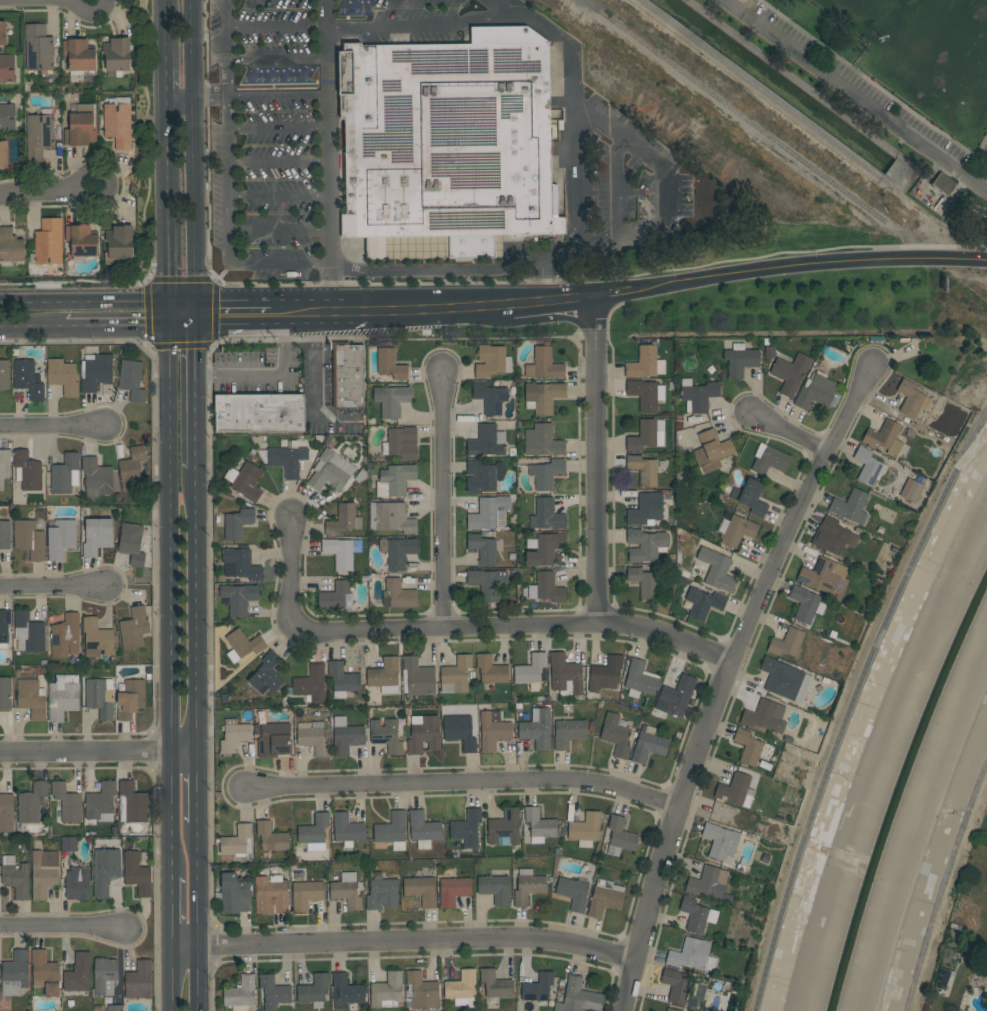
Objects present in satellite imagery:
road: (745, 0)
park: (883, 5)
road: (164, 6)
road: (746, 7)
road: (93, 12)
road: (428, 22)
road: (276, 26)
building: (3, 34)
road: (224, 47)
building: (38, 48)
building: (117, 54)
road: (166, 55)
building: (80, 57)
road: (276, 59)
building: (6, 68)
park: (892, 82)
road: (877, 84)
parking lot: (862, 85)
road: (282, 95)
road: (200, 96)
road: (853, 96)
railway: (733, 111)
building: (7, 118)
building: (117, 124)
road: (279, 126)
building: (81, 127)
building: (39, 135)
road: (167, 145)
building: (448, 145)
building: (3, 154)
road: (331, 155)
road: (194, 158)
parking lot: (983, 158)
road: (279, 163)
road: (668, 172)
road: (578, 179)
road: (107, 183)
building: (944, 184)
road: (616, 187)
road: (985, 187)
road: (41, 192)
road: (279, 194)
road: (659, 197)
road: (969, 207)
road: (280, 229)
road: (229, 231)
building: (48, 242)
building: (81, 242)
building: (118, 245)
road: (981, 245)
building: (11, 246)
road: (169, 259)
road: (810, 264)
road: (438, 265)
road: (614, 295)
road: (552, 302)
road: (99, 303)
traffic signals: (170, 303)
road: (434, 307)
road: (346, 310)
road: (308, 312)
road: (276, 313)
road: (233, 314)
traffic signals: (197, 316)
road: (183, 321)
road: (33, 326)
road: (118, 326)
traffic signals: (170, 326)
building: (770, 352)
building: (740, 360)
building: (492, 361)
building: (645, 363)
road: (314, 364)
building: (390, 364)
building: (544, 364)
building: (97, 372)
road: (268, 372)
building: (790, 373)
building: (5, 375)
building: (347, 375)
building: (63, 376)
building: (28, 379)
building: (131, 379)
road: (197, 392)
building: (816, 392)
building: (646, 394)
building: (699, 395)
building: (543, 396)
building: (490, 398)
building: (912, 399)
building: (391, 400)
building: (259, 413)
road: (53, 427)
road: (786, 433)
road: (971, 435)
building: (645, 436)
building: (885, 437)
building: (487, 441)
building: (545, 441)
building: (401, 443)
building: (712, 451)
building: (288, 459)
building: (769, 459)
road: (594, 461)
building: (869, 466)
building: (4, 467)
building: (133, 469)
building: (643, 469)
building: (27, 471)
building: (330, 472)
building: (546, 473)
building: (65, 474)
building: (483, 476)
building: (97, 478)
building: (395, 480)
building: (245, 481)
building: (912, 490)
building: (751, 497)
road: (442, 500)
building: (851, 506)
building: (646, 510)
building: (487, 513)
building: (547, 515)
building: (391, 518)
building: (343, 520)
building: (237, 523)
building: (735, 530)
building: (881, 530)
building: (5, 535)
building: (97, 536)
building: (837, 536)
building: (61, 538)
building: (29, 539)
building: (132, 544)
building: (646, 545)
building: (485, 548)
building: (544, 548)
building: (342, 552)
building: (397, 552)
building: (240, 564)
building: (716, 569)
building: (825, 577)
building: (645, 582)
building: (487, 583)
road: (53, 588)
building: (547, 588)
building: (400, 594)
building: (336, 597)
building: (238, 598)
road: (170, 600)
building: (703, 603)
building: (806, 604)
road: (197, 608)
building: (4, 627)
road: (456, 627)
building: (134, 628)
building: (29, 632)
building: (66, 636)
building: (97, 638)
building: (786, 643)
building: (243, 645)
building: (491, 669)
building: (531, 671)
building: (565, 673)
building: (267, 674)
building: (606, 674)
building: (385, 675)
building: (456, 675)
building: (418, 677)
building: (781, 678)
building: (640, 679)
building: (343, 680)
road: (722, 681)
building: (311, 683)
building: (247, 691)
building: (5, 693)
building: (63, 697)
building: (100, 697)
building: (676, 697)
building: (32, 698)
building: (226, 698)
building: (131, 699)
road: (849, 710)
building: (763, 716)
building: (537, 729)
building: (493, 732)
building: (568, 732)
building: (424, 734)
building: (234, 735)
building: (616, 735)
building: (346, 736)
building: (386, 736)
building: (461, 736)
building: (274, 740)
building: (313, 741)
building: (649, 745)
building: (748, 747)
road: (98, 751)
road: (197, 785)
road: (459, 786)
building: (736, 790)
building: (68, 802)
building: (101, 802)
building: (31, 803)
building: (132, 803)
building: (6, 813)
building: (539, 825)
building: (506, 827)
building: (467, 828)
building: (347, 829)
building: (423, 829)
building: (585, 829)
building: (392, 830)
building: (314, 832)
building: (621, 834)
building: (271, 837)
building: (720, 841)
building: (237, 842)
building: (68, 844)
building: (105, 871)
building: (44, 872)
building: (137, 874)
building: (15, 877)
road: (943, 882)
building: (709, 883)
building: (77, 884)
building: (528, 887)
building: (494, 888)
building: (421, 890)
building: (453, 890)
building: (305, 892)
building: (346, 892)
building: (380, 892)
building: (573, 892)
building: (234, 894)
building: (271, 895)
building: (605, 898)
road: (172, 910)
building: (697, 914)
road: (199, 916)
building: (955, 927)
road: (63, 928)
road: (405, 940)
building: (692, 955)
building: (949, 955)
building: (15, 973)
building: (45, 973)
building: (78, 973)
building: (105, 978)
road: (173, 978)
building: (942, 978)
building: (139, 980)
building: (495, 984)
building: (678, 986)
building: (538, 987)
building: (462, 988)
building: (348, 989)
building: (314, 990)
building: (387, 991)
building: (422, 991)
building: (273, 992)
building: (241, 994)
building: (579, 997)
building: (114, 1007)
building: (671, 1010)

